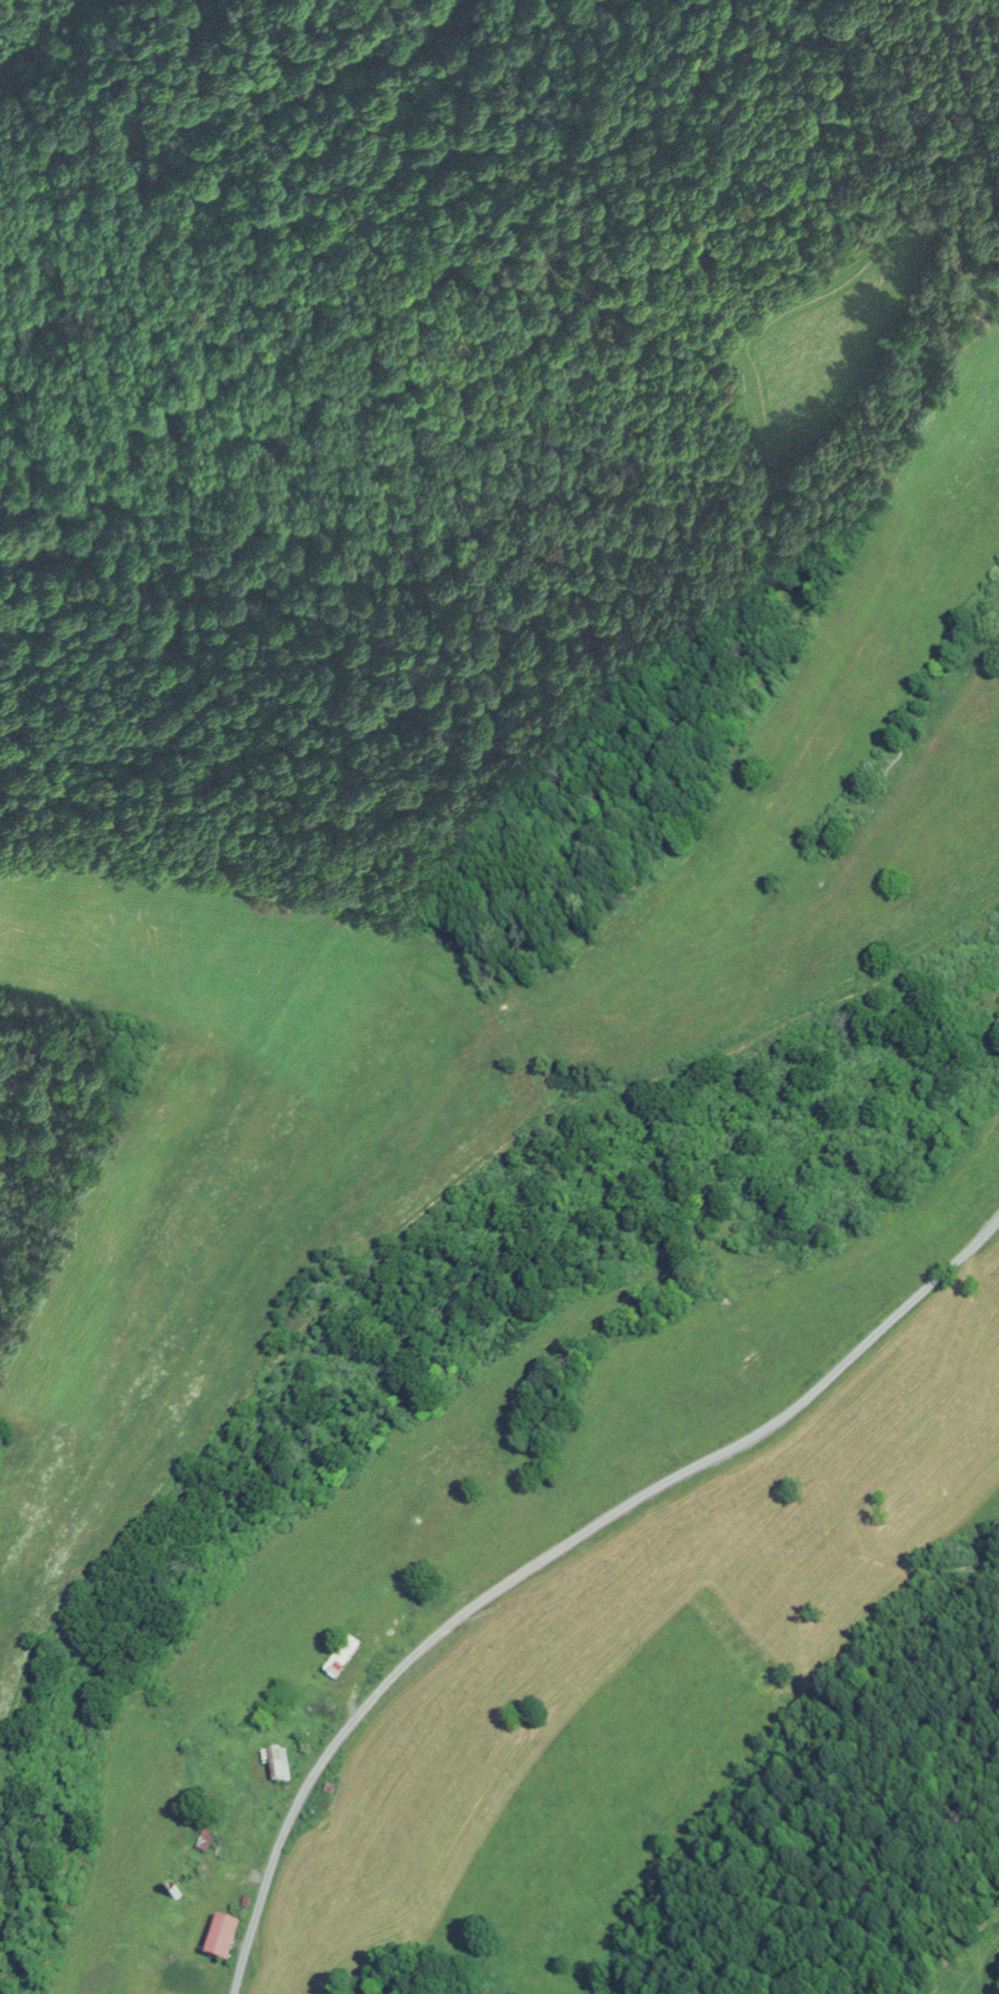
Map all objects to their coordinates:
road: (553, 1552)

